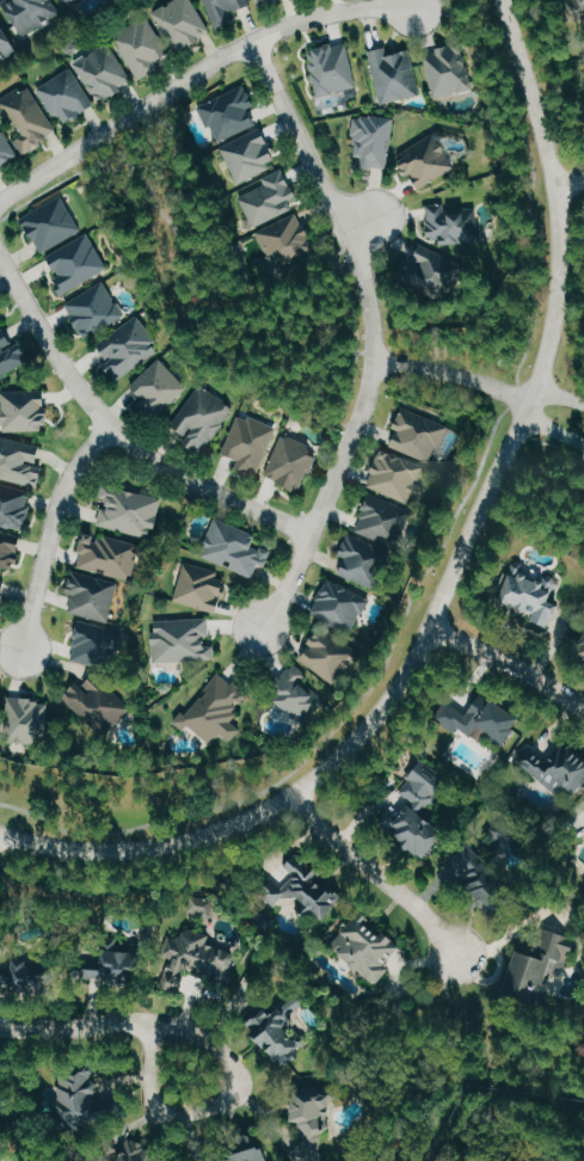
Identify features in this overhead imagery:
building: (67, 0)
building: (264, 1)
building: (227, 8)
building: (33, 13)
building: (184, 23)
building: (6, 43)
building: (142, 48)
building: (333, 68)
building: (450, 70)
building: (105, 72)
road: (192, 75)
building: (395, 75)
building: (67, 97)
building: (230, 113)
building: (30, 117)
building: (374, 140)
building: (6, 148)
building: (251, 154)
building: (429, 161)
road: (570, 183)
building: (271, 198)
building: (53, 225)
building: (454, 225)
road: (359, 226)
building: (78, 263)
building: (430, 270)
building: (96, 309)
building: (2, 317)
road: (547, 321)
road: (373, 333)
building: (129, 346)
building: (10, 355)
road: (453, 376)
building: (160, 387)
road: (555, 392)
building: (26, 410)
building: (203, 417)
road: (552, 428)
road: (121, 432)
building: (420, 435)
building: (251, 442)
road: (561, 446)
building: (20, 461)
building: (293, 462)
building: (398, 475)
building: (14, 505)
building: (130, 510)
building: (385, 517)
road: (50, 528)
building: (236, 547)
road: (437, 549)
building: (10, 551)
building: (110, 555)
building: (365, 561)
building: (202, 588)
building: (2, 592)
building: (93, 596)
building: (535, 596)
building: (343, 604)
building: (184, 639)
building: (331, 655)
road: (508, 663)
building: (98, 677)
building: (295, 692)
building: (216, 709)
building: (485, 718)
building: (26, 723)
building: (558, 767)
building: (423, 810)
road: (254, 817)
road: (379, 876)
building: (486, 883)
building: (308, 887)
building: (207, 908)
building: (371, 948)
building: (540, 950)
building: (201, 957)
building: (119, 967)
building: (541, 971)
building: (32, 977)
road: (75, 1024)
building: (282, 1032)
building: (0, 1082)
building: (79, 1098)
road: (213, 1106)
building: (314, 1124)
road: (508, 1132)
building: (136, 1151)
building: (258, 1155)

